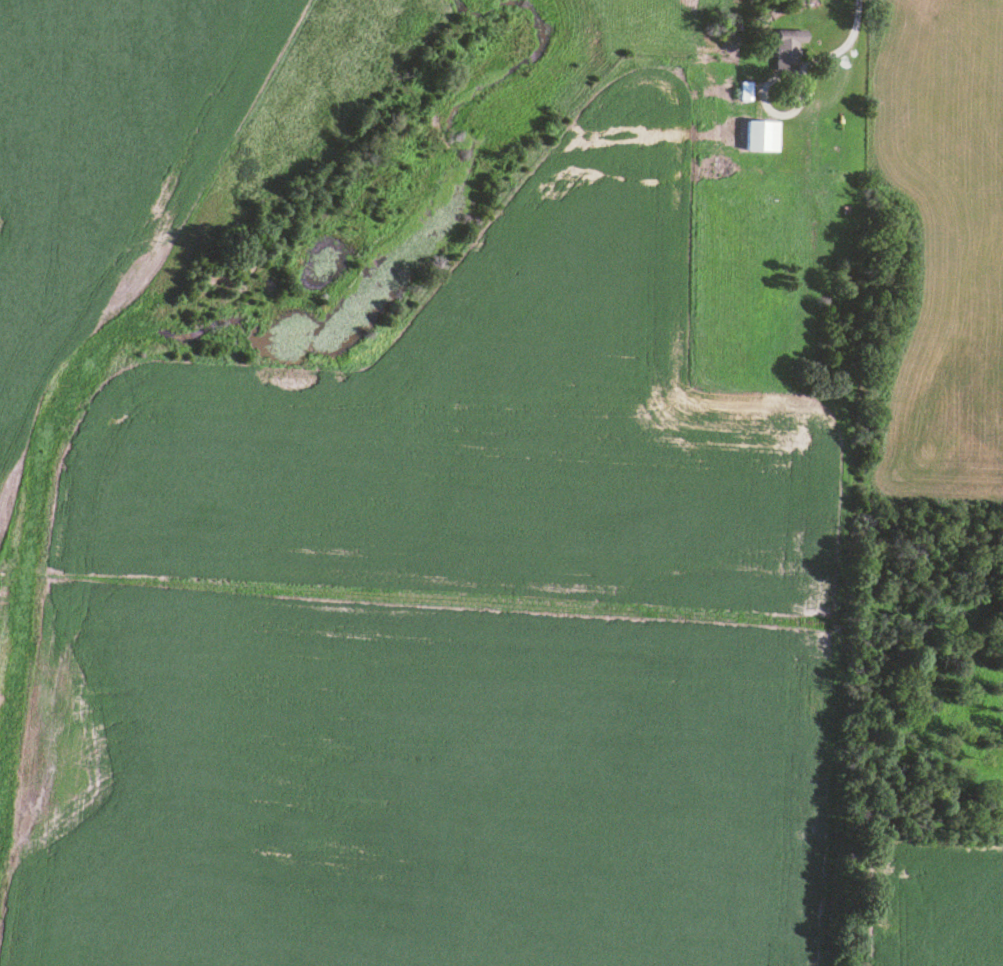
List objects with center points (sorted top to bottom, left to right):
road: (845, 46)
building: (790, 47)
building: (763, 133)

